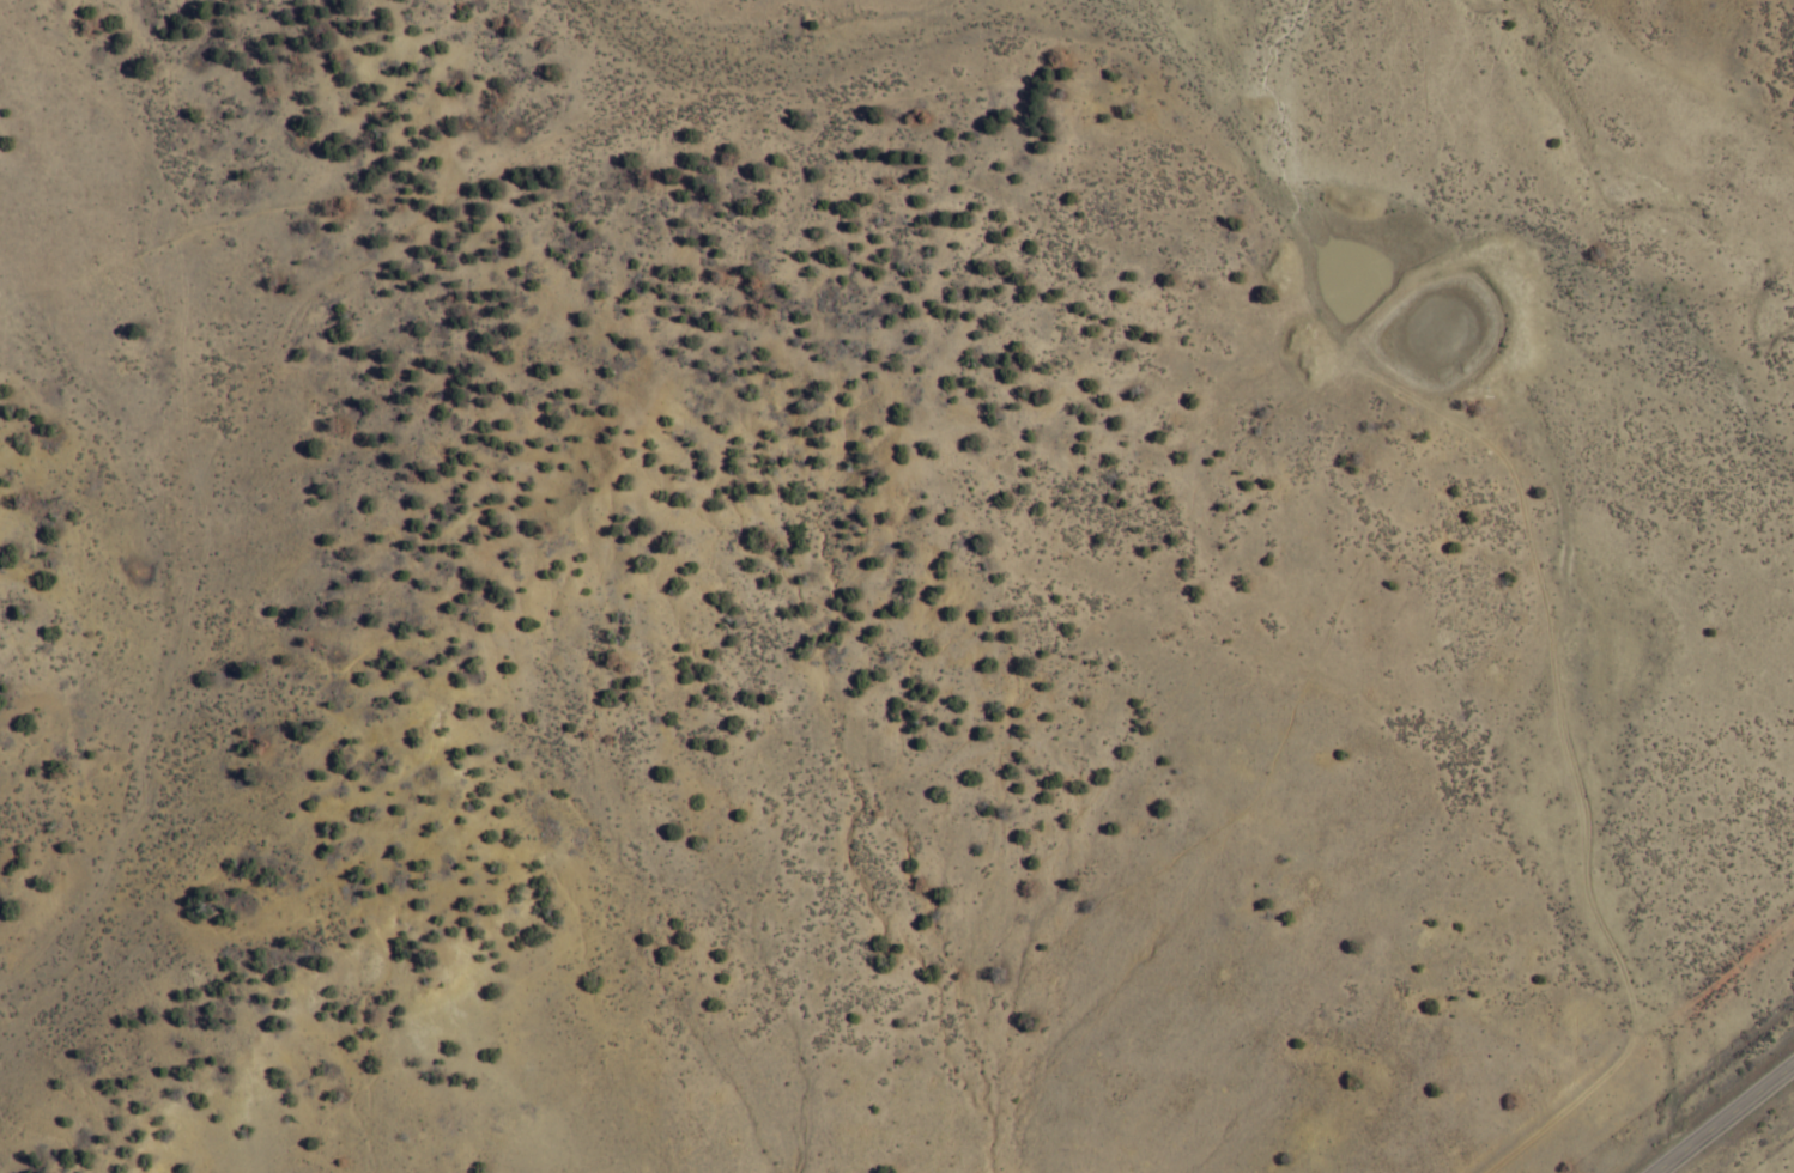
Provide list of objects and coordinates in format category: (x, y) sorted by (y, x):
road: (1717, 1113)

